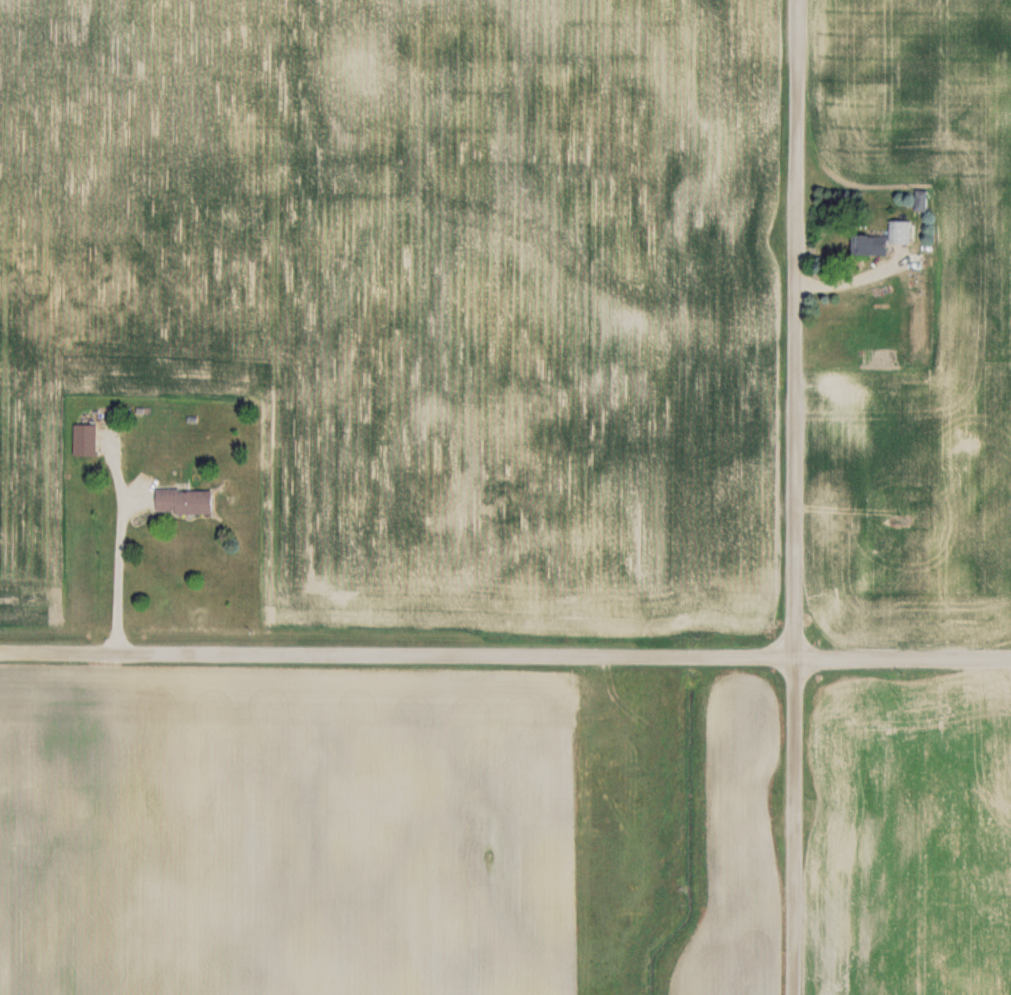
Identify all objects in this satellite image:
building: (899, 231)
building: (866, 244)
building: (81, 439)
road: (797, 497)
building: (179, 501)
road: (120, 572)
road: (505, 655)

